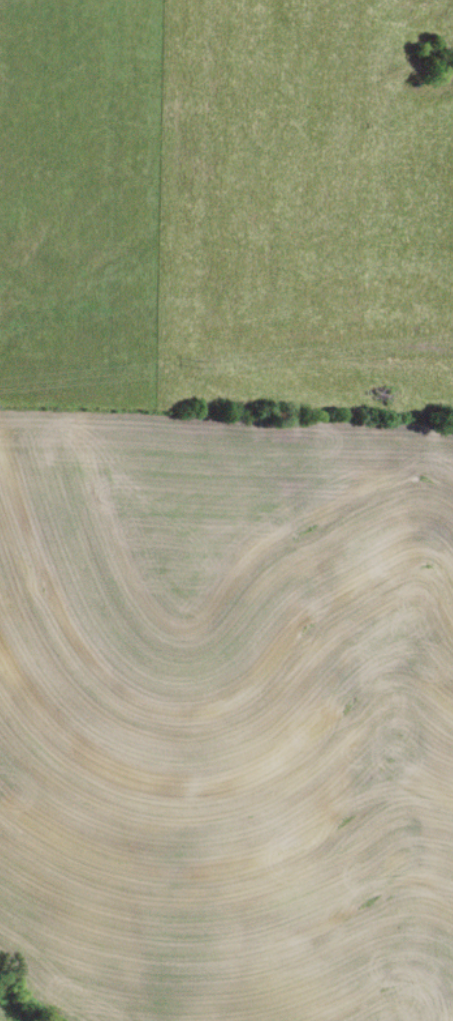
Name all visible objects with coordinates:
power tower: (202, 364)

